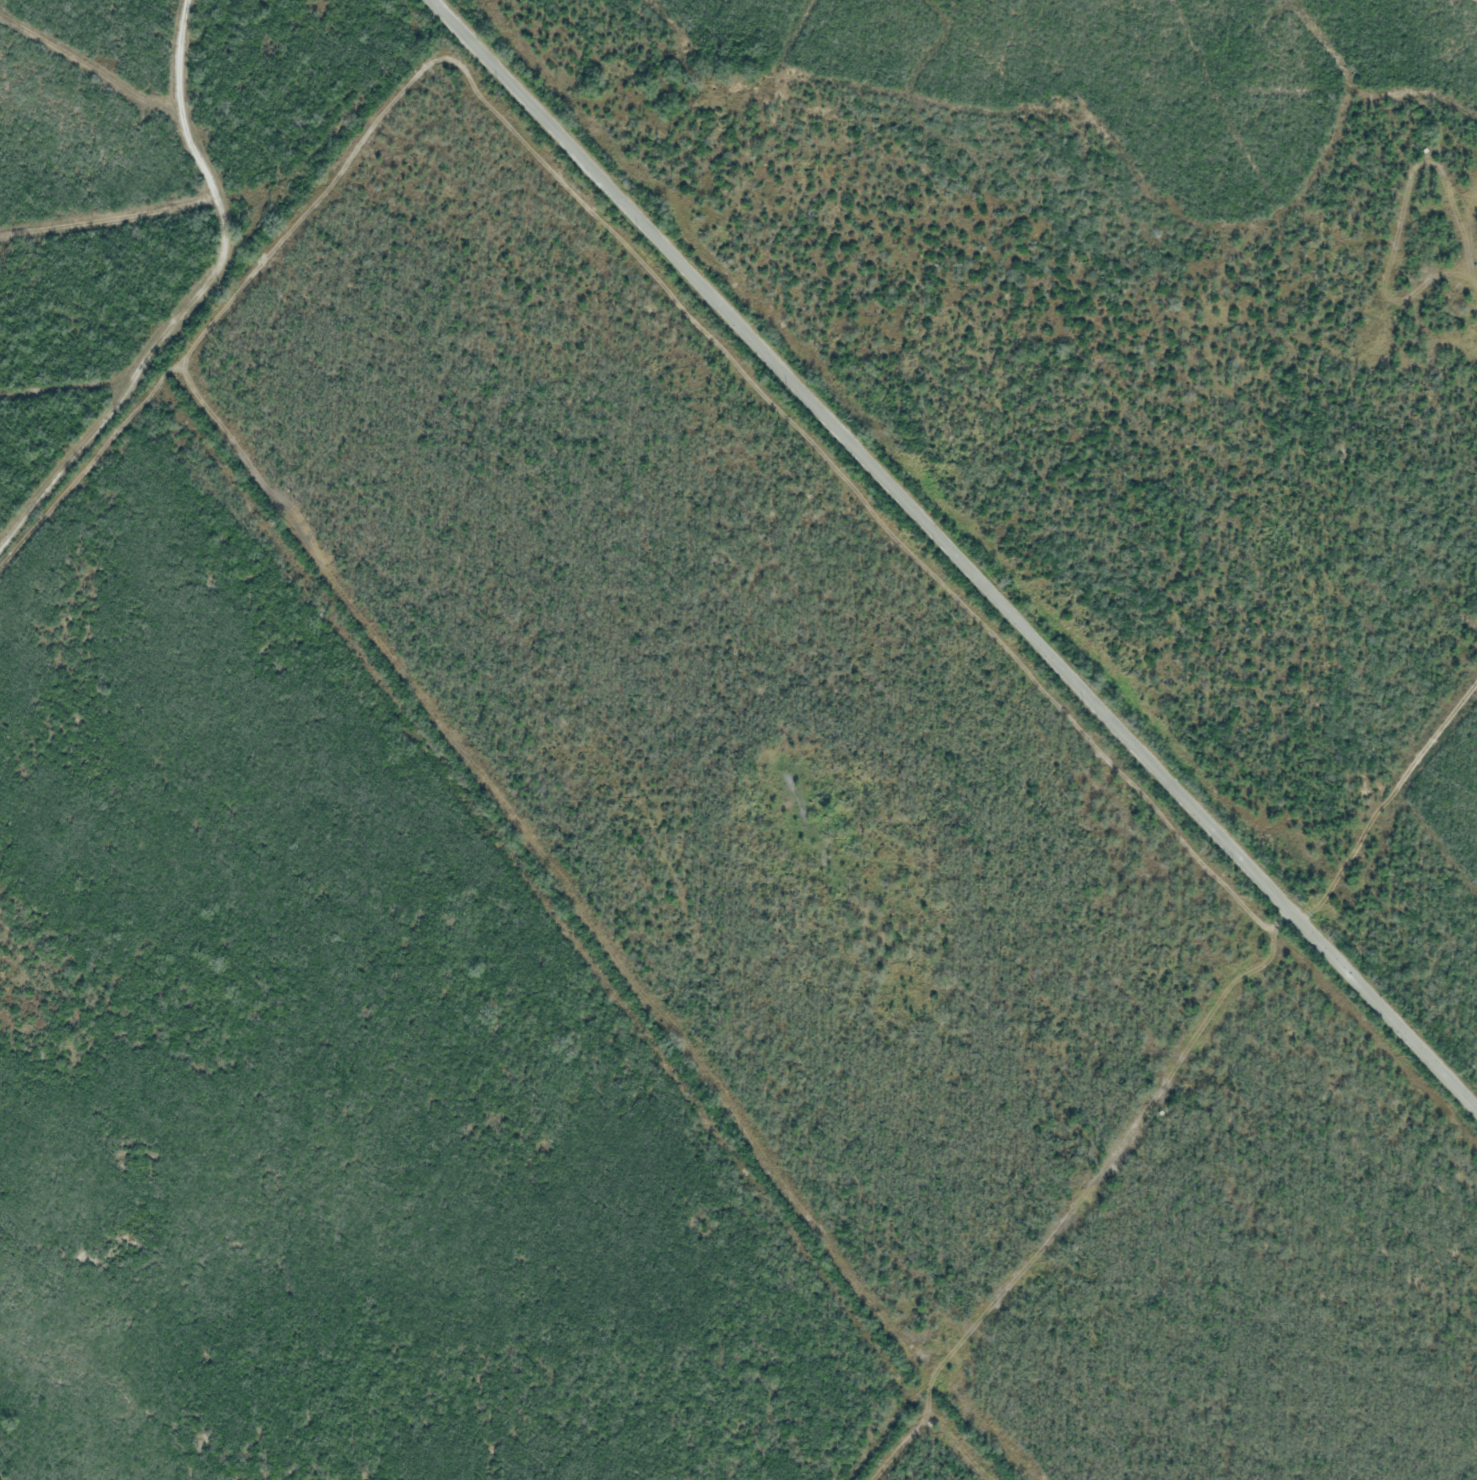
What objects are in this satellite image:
road: (210, 270)
road: (955, 552)

